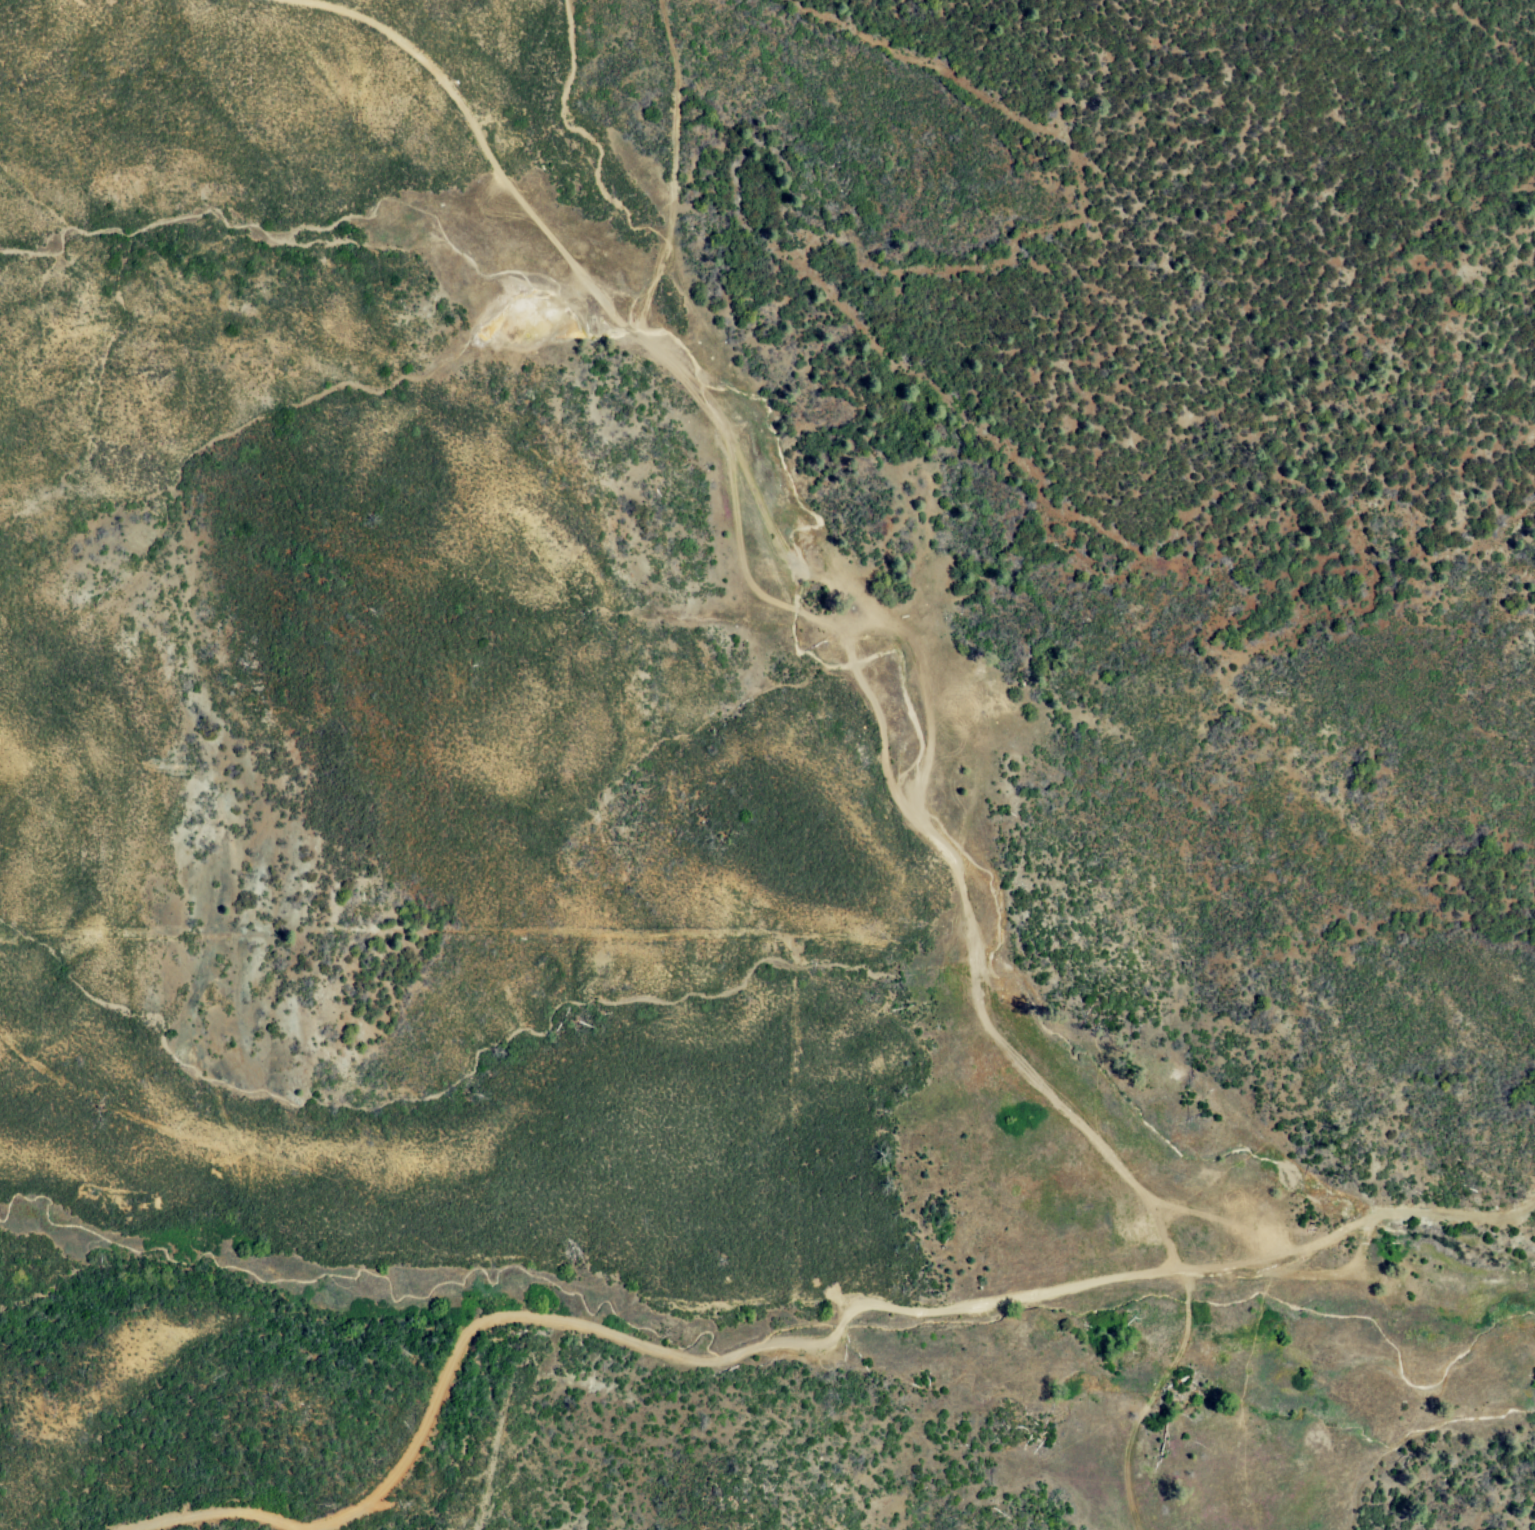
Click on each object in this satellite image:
road: (1344, 1236)

